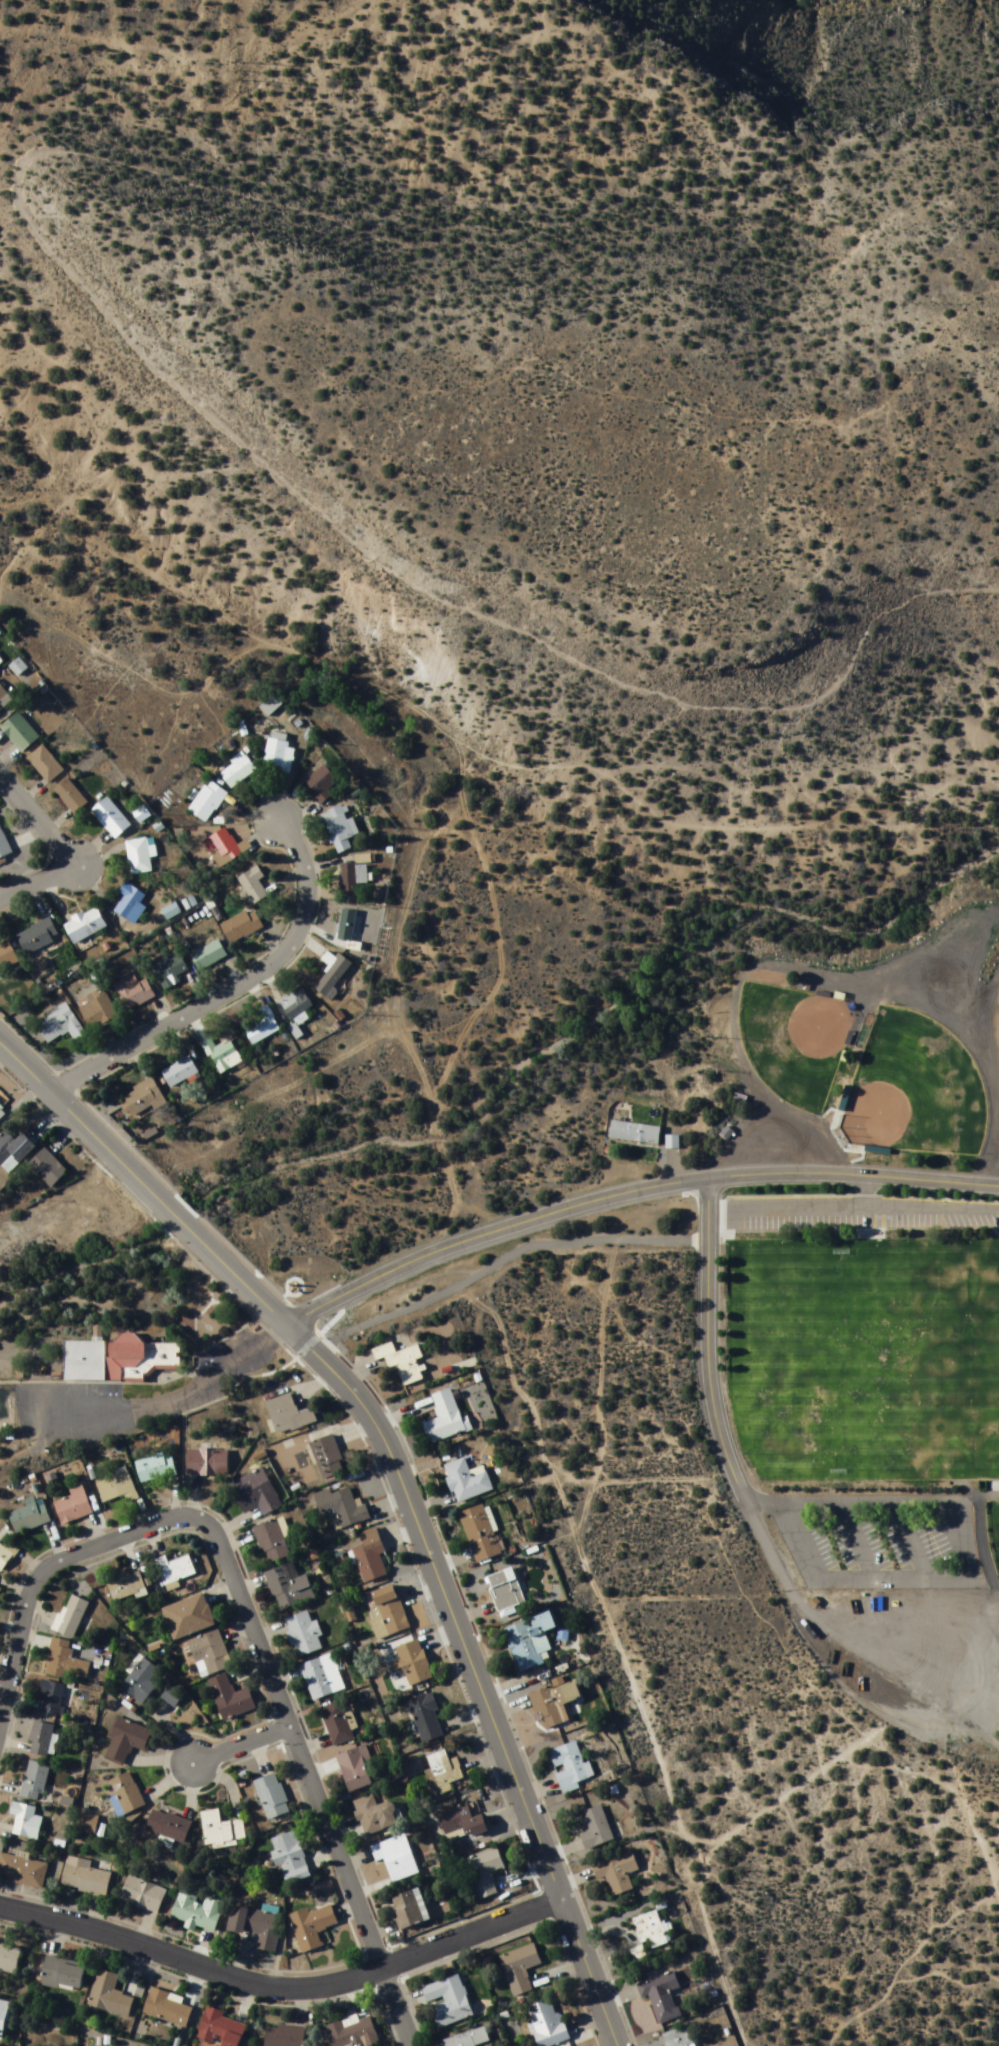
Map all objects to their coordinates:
building: (268, 708)
building: (19, 732)
building: (277, 754)
building: (45, 765)
building: (237, 771)
building: (320, 785)
building: (70, 797)
building: (207, 802)
building: (110, 818)
building: (339, 832)
road: (54, 842)
building: (2, 843)
building: (226, 848)
building: (140, 855)
building: (352, 879)
building: (252, 886)
building: (130, 903)
building: (170, 911)
building: (346, 925)
building: (84, 926)
building: (241, 926)
building: (37, 937)
building: (3, 951)
building: (208, 956)
building: (168, 971)
building: (332, 975)
road: (231, 989)
building: (133, 992)
building: (295, 1004)
building: (97, 1008)
building: (59, 1026)
building: (261, 1028)
park: (794, 1041)
building: (223, 1057)
building: (179, 1073)
park: (913, 1089)
building: (141, 1100)
building: (0, 1108)
building: (634, 1133)
road: (997, 1148)
building: (13, 1151)
building: (46, 1168)
road: (635, 1201)
parking lot: (926, 1216)
road: (500, 1260)
road: (99, 1291)
park: (863, 1293)
park: (860, 1336)
road: (322, 1346)
building: (116, 1361)
building: (401, 1362)
parking lot: (62, 1390)
building: (288, 1416)
building: (444, 1419)
road: (732, 1454)
building: (327, 1458)
building: (207, 1463)
building: (155, 1469)
building: (466, 1481)
road: (398, 1485)
building: (116, 1488)
building: (256, 1493)
building: (73, 1507)
building: (341, 1508)
building: (30, 1516)
park: (993, 1529)
building: (480, 1533)
building: (272, 1541)
parking lot: (885, 1542)
building: (6, 1556)
building: (370, 1556)
building: (176, 1572)
building: (289, 1587)
building: (126, 1588)
building: (505, 1590)
road: (239, 1594)
building: (386, 1613)
building: (72, 1617)
building: (189, 1618)
building: (304, 1635)
building: (530, 1641)
building: (210, 1653)
building: (65, 1662)
building: (412, 1663)
building: (322, 1677)
building: (139, 1681)
building: (52, 1697)
building: (230, 1699)
building: (554, 1704)
building: (426, 1719)
building: (336, 1724)
building: (41, 1739)
building: (127, 1740)
road: (236, 1740)
building: (568, 1767)
building: (355, 1769)
building: (444, 1771)
building: (34, 1781)
building: (127, 1793)
building: (272, 1797)
building: (375, 1815)
building: (26, 1822)
building: (86, 1823)
building: (462, 1823)
building: (168, 1827)
building: (595, 1829)
building: (221, 1830)
building: (289, 1858)
building: (396, 1858)
building: (22, 1871)
building: (484, 1873)
building: (617, 1873)
building: (84, 1877)
building: (142, 1895)
building: (196, 1911)
building: (407, 1911)
building: (257, 1925)
building: (312, 1927)
building: (650, 1930)
building: (9, 1958)
building: (519, 1970)
building: (62, 1975)
road: (281, 1983)
building: (109, 1996)
building: (661, 1996)
building: (447, 2002)
road: (394, 2005)
building: (166, 2008)
building: (3, 2018)
building: (546, 2024)
building: (220, 2029)
building: (352, 2033)
building: (284, 2036)
building: (678, 2038)
building: (468, 2039)

